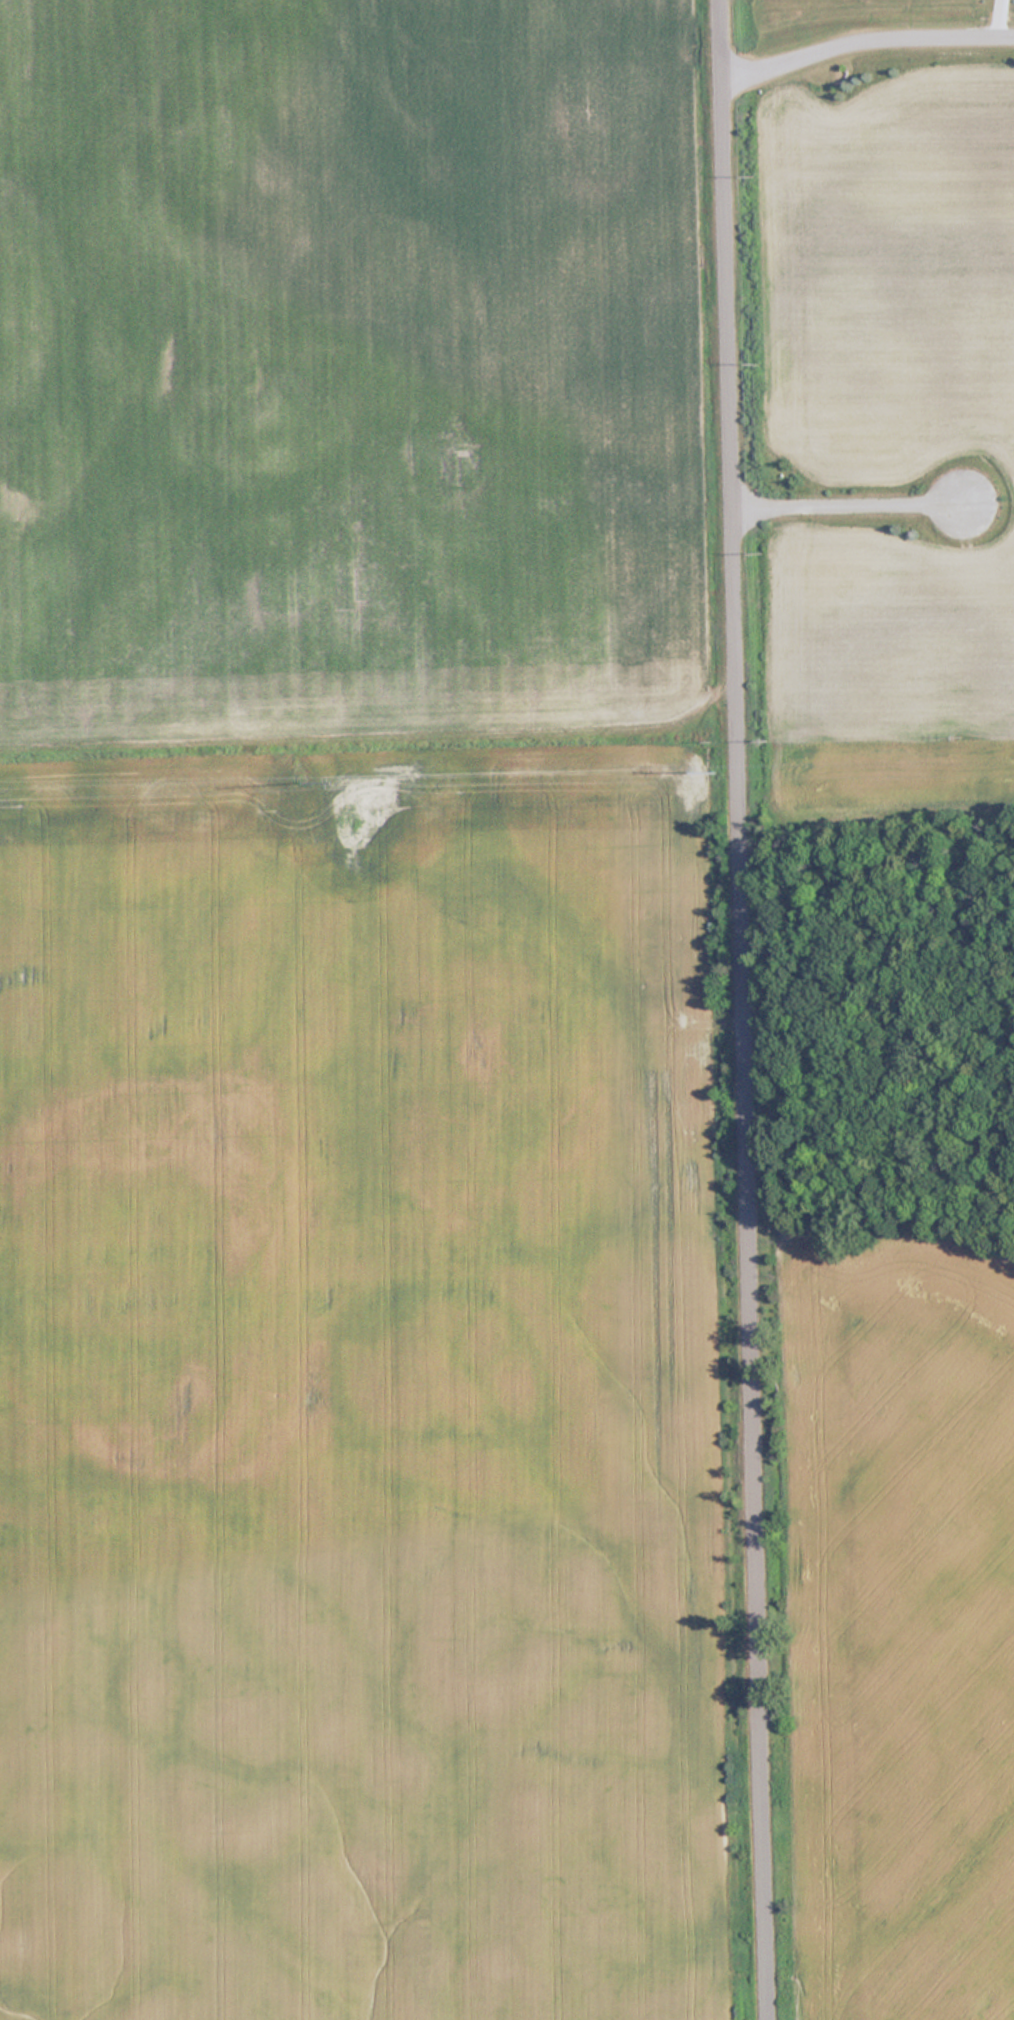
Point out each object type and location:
road: (989, 17)
road: (865, 37)
power tower: (713, 773)
power tower: (296, 785)
road: (744, 1010)

